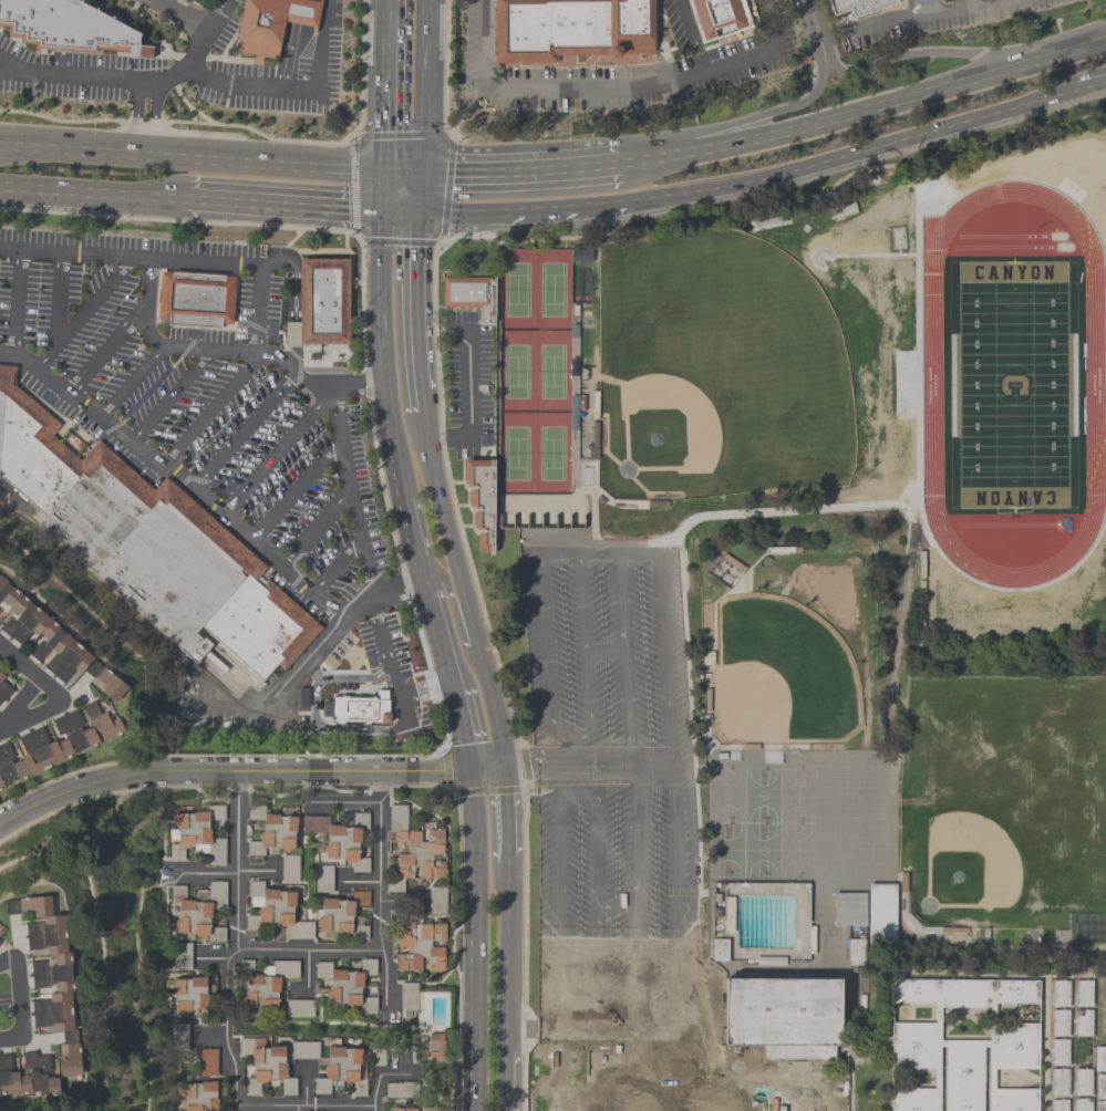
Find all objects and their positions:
road: (975, 3)
road: (991, 3)
building: (854, 8)
road: (298, 11)
road: (324, 14)
road: (176, 17)
building: (719, 18)
road: (912, 21)
building: (63, 25)
building: (259, 29)
building: (571, 29)
road: (690, 35)
road: (205, 37)
road: (288, 55)
road: (899, 60)
road: (11, 65)
road: (190, 75)
road: (386, 85)
road: (424, 85)
road: (1091, 87)
road: (610, 91)
road: (782, 111)
road: (866, 111)
road: (135, 117)
road: (155, 118)
road: (852, 155)
road: (192, 156)
road: (523, 168)
traffic signals: (385, 170)
road: (403, 170)
traffic signals: (422, 172)
road: (384, 190)
road: (420, 191)
road: (93, 195)
road: (285, 207)
road: (598, 207)
traffic signals: (383, 211)
road: (400, 211)
traffic signals: (417, 212)
road: (494, 212)
building: (581, 256)
road: (176, 262)
park: (516, 289)
park: (552, 289)
building: (468, 292)
building: (198, 300)
road: (414, 301)
road: (56, 303)
building: (320, 303)
road: (18, 305)
road: (83, 315)
road: (108, 353)
road: (382, 356)
park: (715, 370)
park: (515, 371)
park: (551, 371)
road: (303, 375)
building: (901, 380)
track: (1011, 380)
road: (134, 384)
road: (351, 386)
road: (467, 394)
road: (172, 398)
road: (421, 402)
road: (210, 413)
road: (247, 430)
parking lot: (218, 435)
building: (31, 451)
park: (515, 453)
park: (551, 453)
road: (277, 457)
road: (178, 478)
road: (1, 487)
road: (299, 489)
building: (479, 500)
building: (97, 509)
road: (776, 516)
road: (321, 529)
road: (411, 538)
road: (600, 558)
road: (340, 568)
building: (176, 571)
road: (399, 586)
road: (463, 593)
road: (455, 615)
road: (437, 627)
building: (259, 630)
building: (54, 644)
road: (606, 650)
road: (392, 660)
road: (626, 661)
road: (666, 661)
road: (290, 677)
park: (775, 677)
road: (427, 687)
building: (3, 688)
building: (345, 689)
road: (55, 694)
road: (313, 712)
road: (462, 725)
road: (366, 731)
road: (395, 731)
road: (572, 738)
building: (58, 745)
road: (566, 747)
road: (569, 757)
road: (486, 764)
road: (654, 764)
road: (184, 767)
road: (424, 770)
road: (487, 771)
road: (570, 772)
road: (560, 796)
road: (341, 803)
parking lot: (613, 808)
road: (506, 820)
building: (271, 831)
building: (197, 837)
building: (338, 840)
park: (981, 843)
building: (415, 848)
road: (237, 860)
building: (290, 869)
road: (256, 870)
road: (208, 872)
road: (359, 881)
road: (378, 889)
road: (674, 895)
road: (635, 896)
road: (400, 902)
building: (437, 902)
building: (849, 908)
building: (198, 911)
building: (275, 911)
road: (617, 913)
building: (880, 913)
building: (342, 916)
road: (475, 939)
building: (0, 941)
building: (418, 946)
road: (285, 948)
building: (720, 948)
road: (507, 949)
building: (855, 952)
building: (49, 973)
road: (307, 975)
building: (265, 982)
building: (348, 983)
building: (1082, 993)
building: (189, 994)
building: (1060, 994)
building: (409, 999)
road: (17, 1000)
building: (300, 1009)
building: (436, 1011)
building: (783, 1017)
road: (565, 1019)
building: (1058, 1022)
building: (1083, 1022)
road: (591, 1030)
road: (224, 1035)
road: (208, 1036)
building: (440, 1046)
building: (963, 1048)
building: (304, 1050)
building: (1058, 1051)
building: (1099, 1059)
building: (208, 1063)
building: (265, 1066)
building: (340, 1070)
road: (508, 1071)
building: (28, 1076)
road: (379, 1076)
road: (630, 1077)
road: (720, 1079)
building: (1058, 1081)
building: (1082, 1081)
road: (304, 1083)
building: (1099, 1086)
building: (397, 1091)
building: (199, 1096)
road: (733, 1096)
building: (1058, 1104)
building: (1082, 1104)
road: (265, 1105)
road: (300, 1105)
road: (338, 1105)
building: (1099, 1105)
road: (296, 1108)
road: (372, 1108)
building: (403, 1109)
building: (431, 1109)

